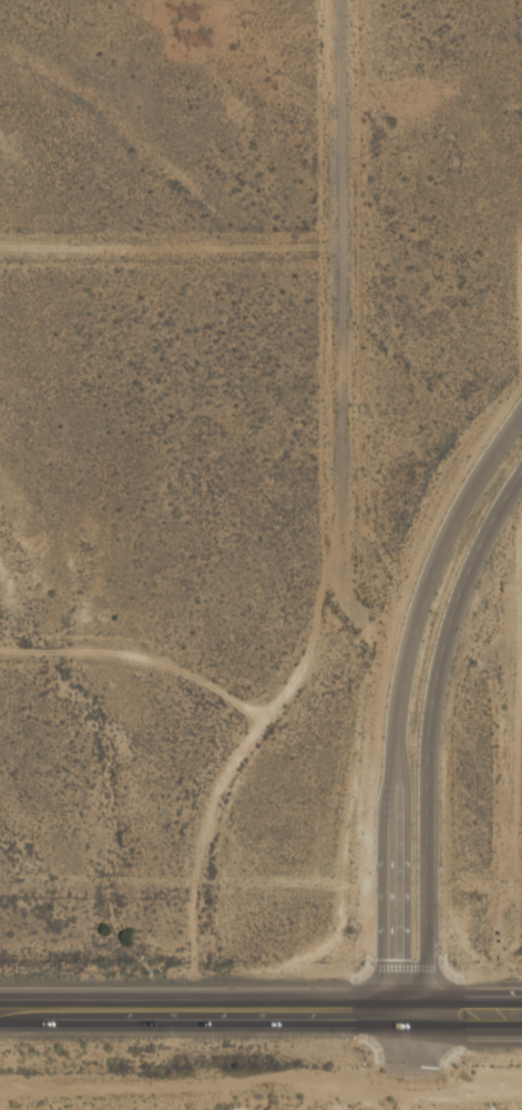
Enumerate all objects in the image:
road: (168, 255)
road: (337, 326)
road: (141, 662)
road: (400, 694)
road: (422, 725)
road: (260, 1005)

